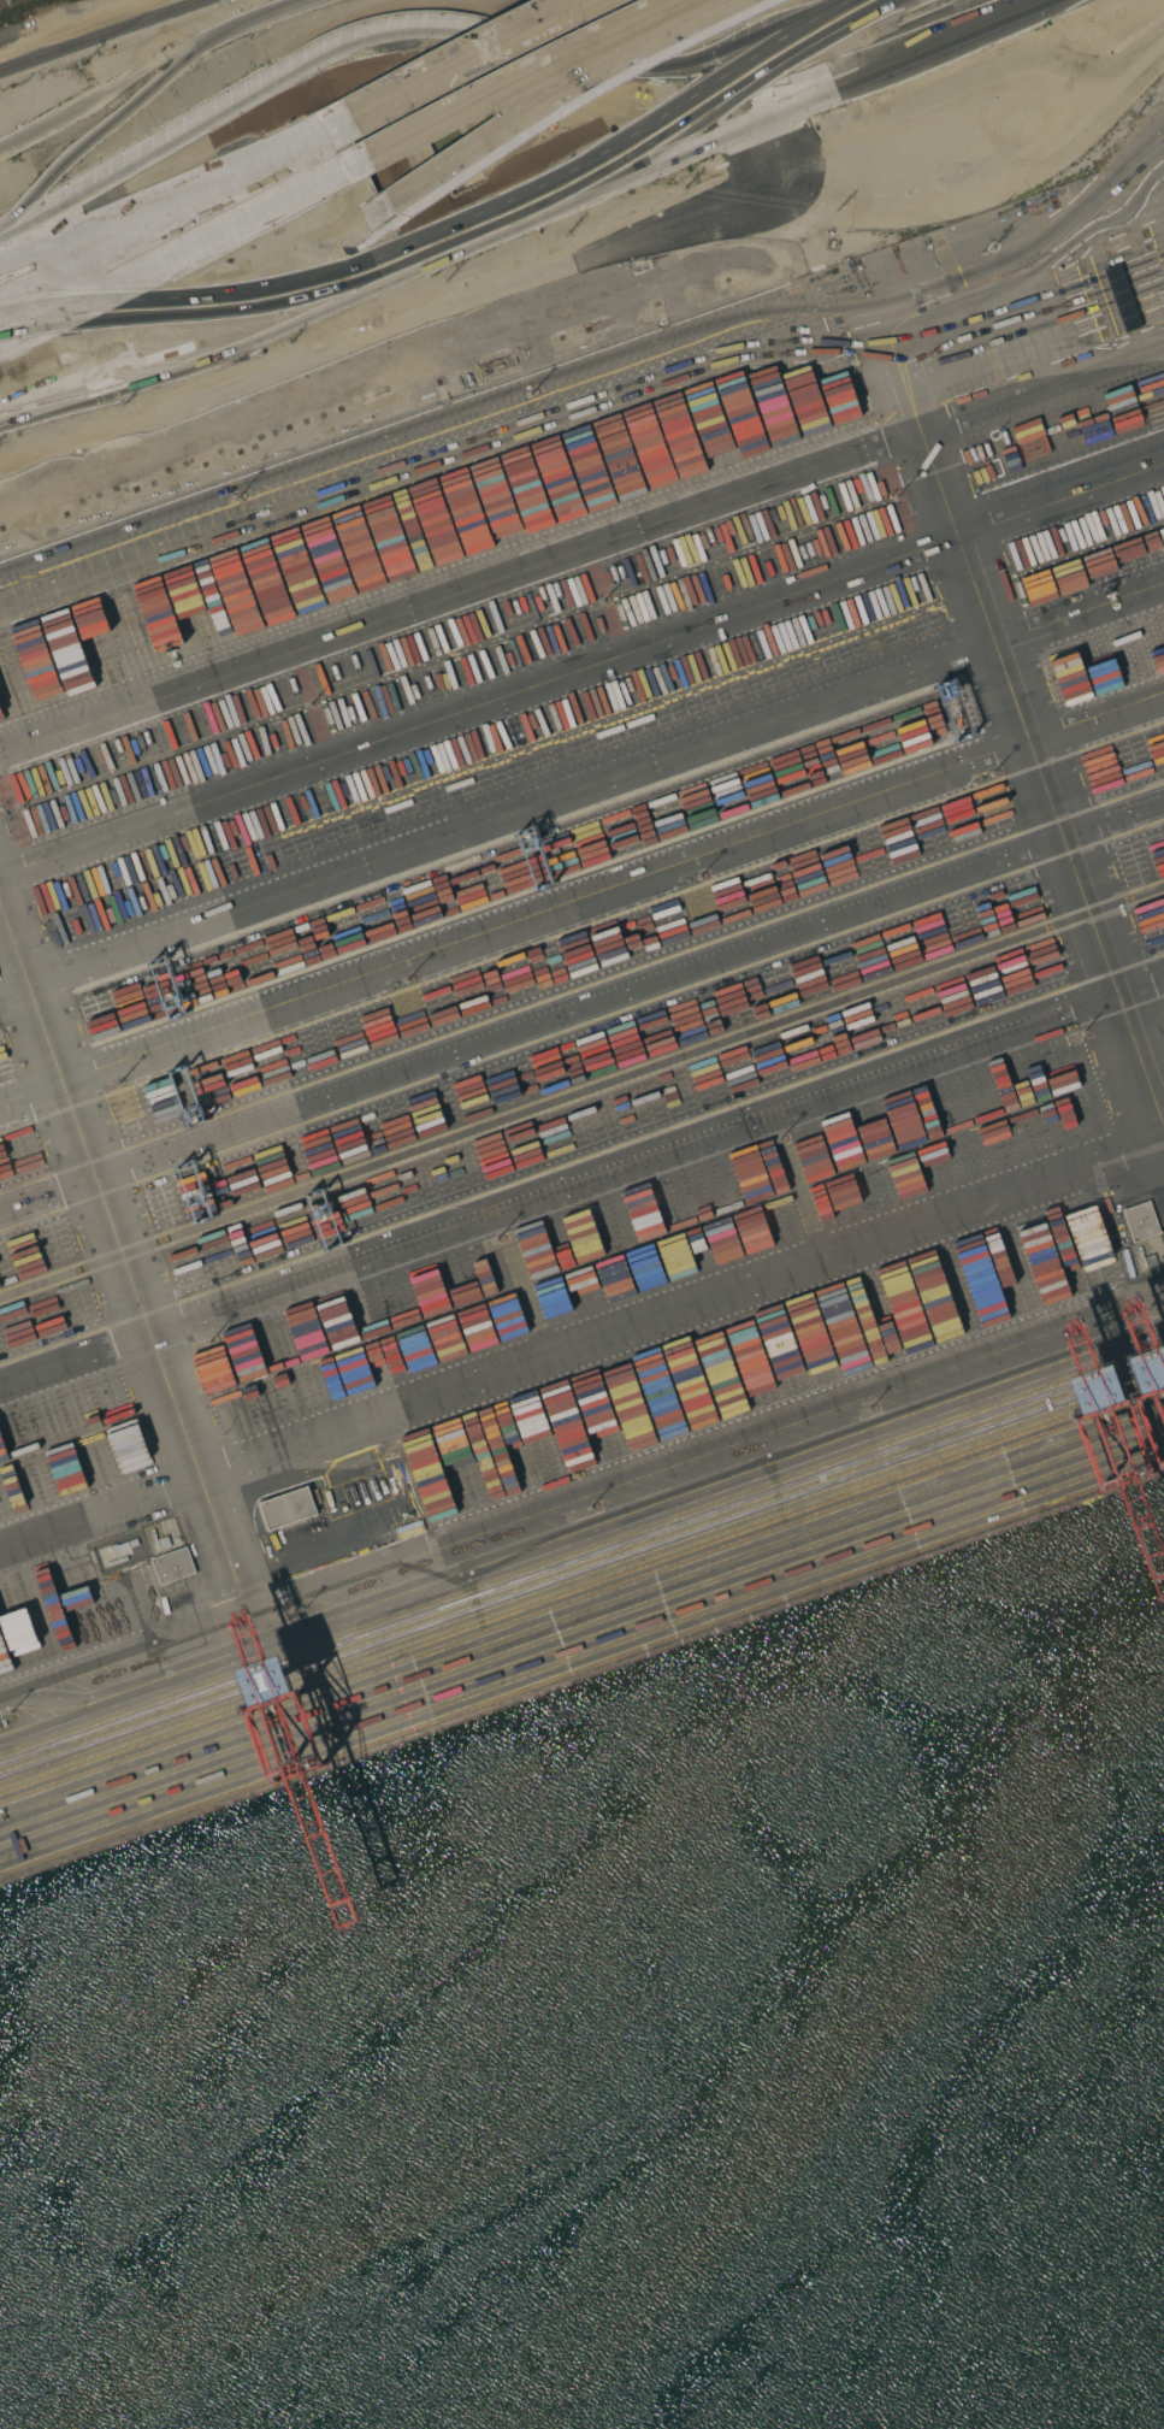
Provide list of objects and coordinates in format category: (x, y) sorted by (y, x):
railway: (101, 35)
road: (484, 35)
road: (462, 59)
road: (522, 75)
road: (548, 98)
road: (171, 185)
road: (172, 213)
road: (526, 223)
road: (182, 254)
road: (201, 330)
road: (362, 359)
road: (599, 408)
road: (581, 550)
road: (581, 670)
road: (1017, 712)
road: (581, 791)
road: (581, 908)
road: (581, 1006)
road: (581, 1184)
building: (1141, 1221)
road: (128, 1266)
road: (581, 1351)
road: (581, 1508)
building: (288, 1509)
building: (172, 1566)

